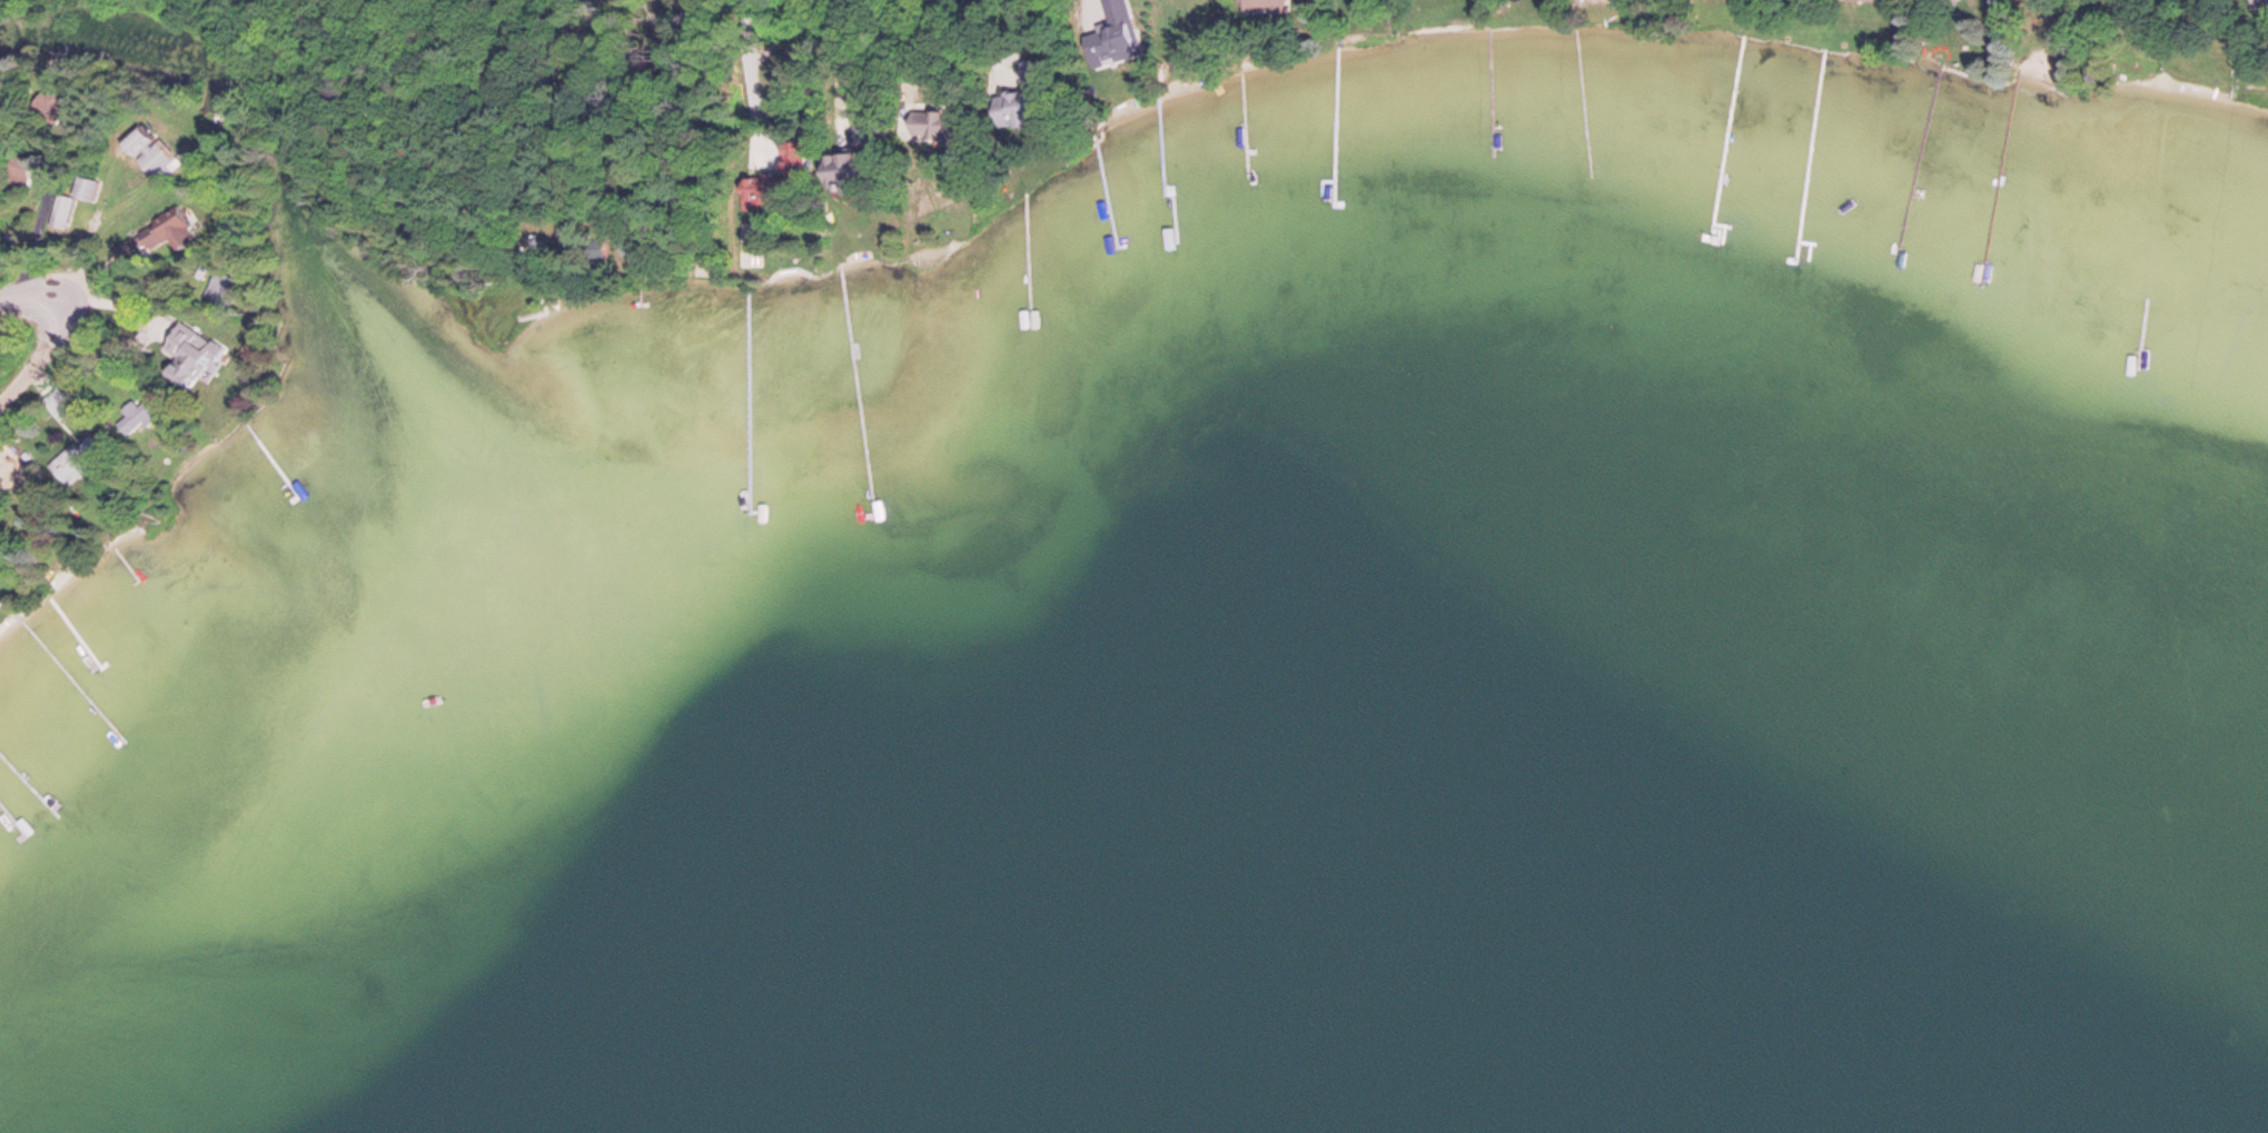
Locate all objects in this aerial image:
building: (1862, 2)
building: (2259, 7)
road: (793, 22)
river: (179, 59)
road: (396, 96)
building: (1018, 119)
building: (83, 191)
road: (59, 326)
river: (447, 665)

